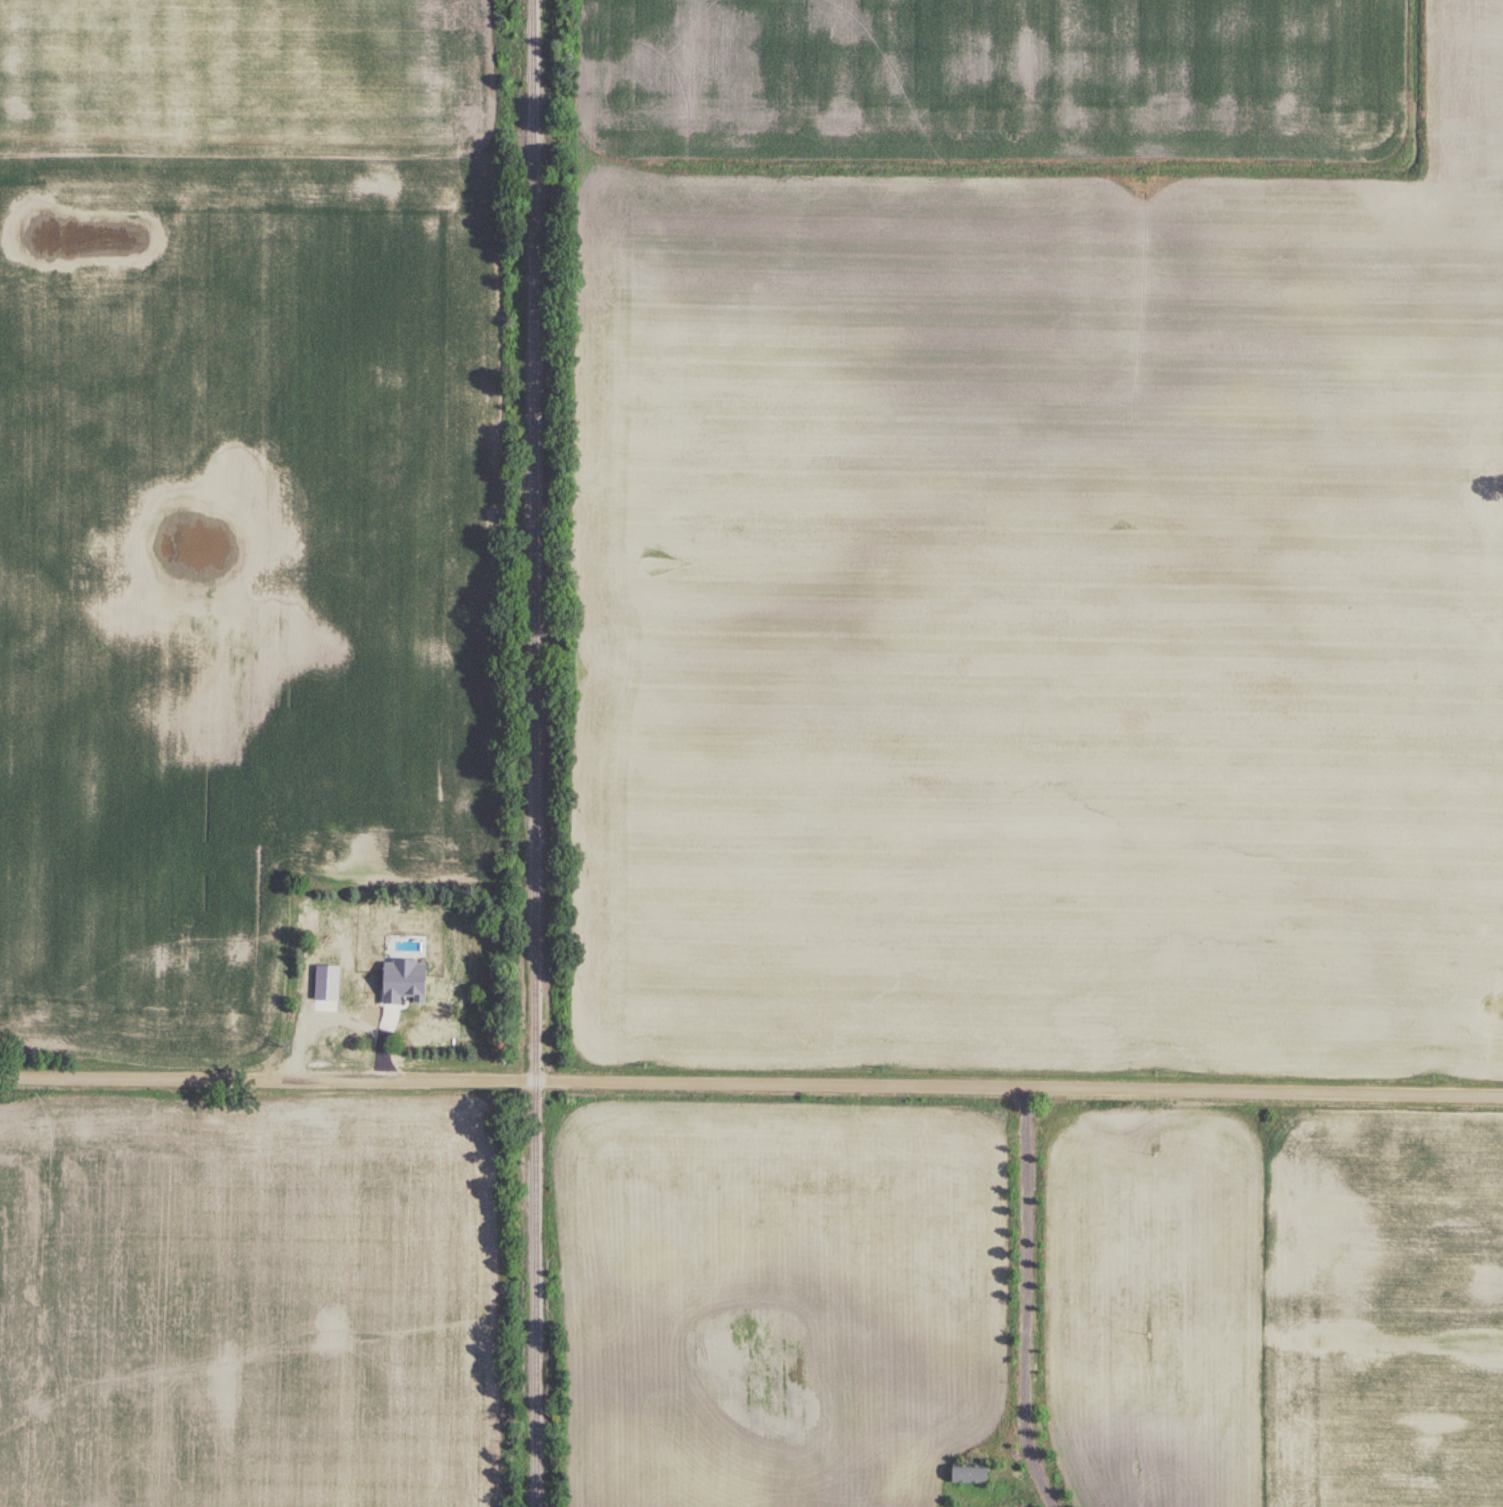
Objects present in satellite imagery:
railway: (533, 753)
building: (311, 1020)
road: (751, 1084)
road: (1027, 1287)
building: (964, 1476)

